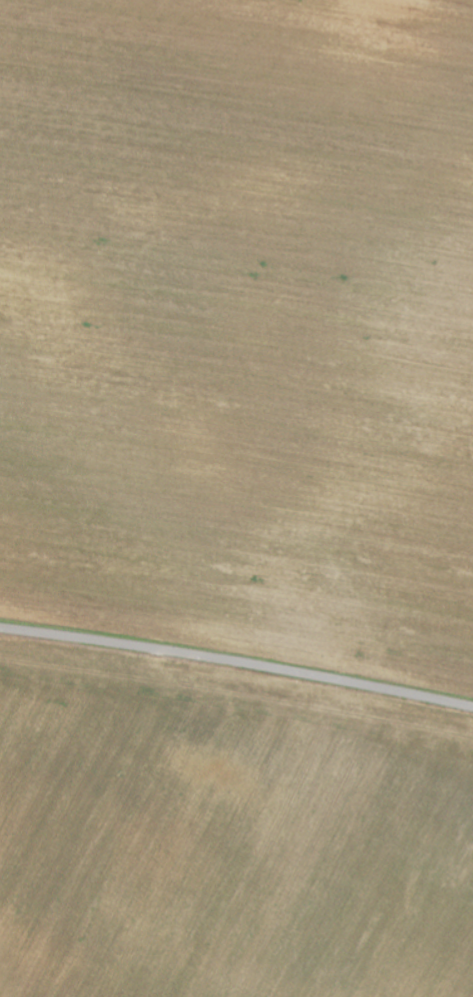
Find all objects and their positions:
road: (237, 662)

